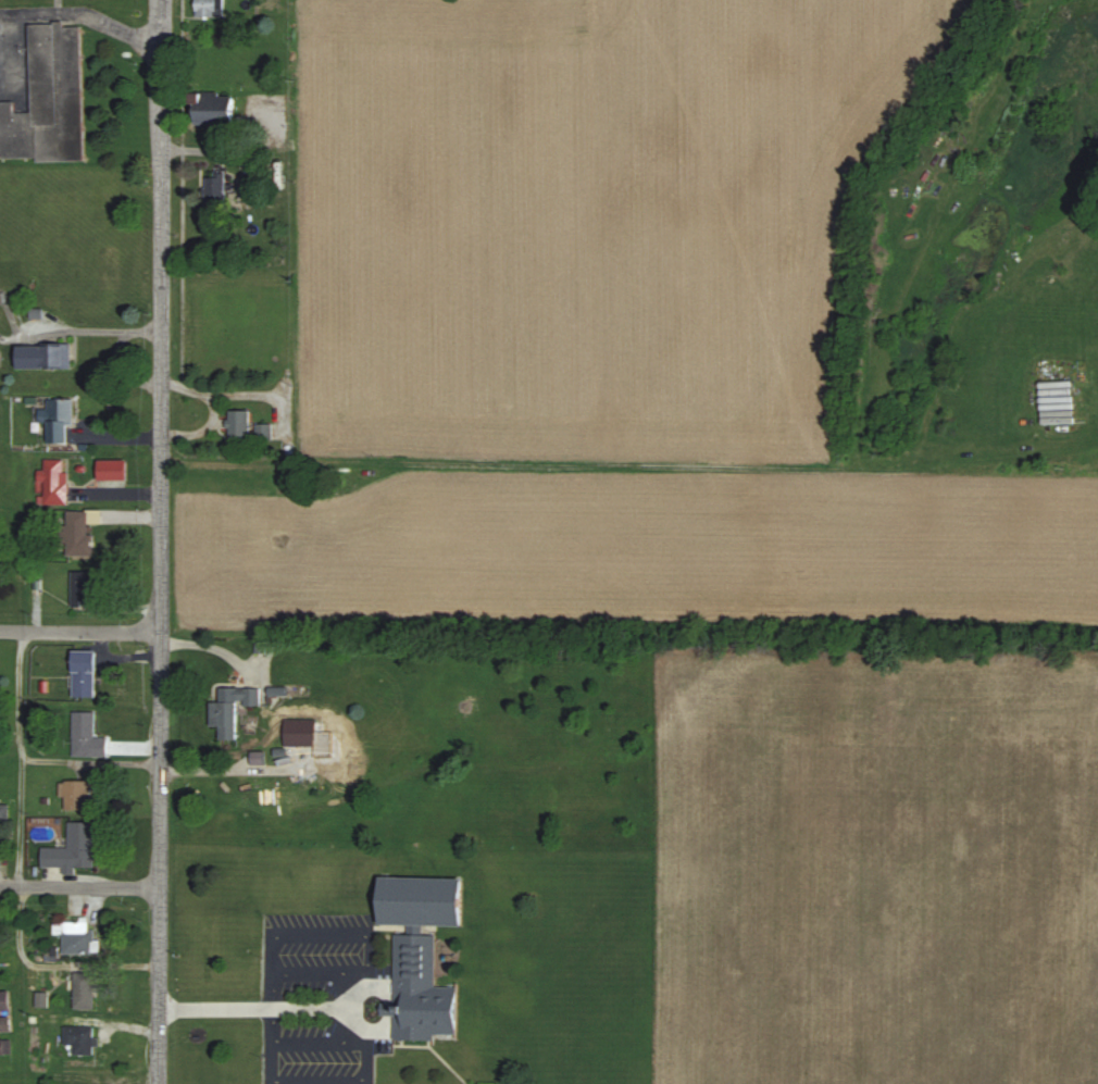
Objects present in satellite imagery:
building: (207, 9)
road: (79, 13)
building: (49, 100)
building: (216, 108)
building: (216, 186)
building: (46, 357)
building: (1058, 402)
building: (60, 419)
building: (240, 423)
building: (265, 431)
building: (113, 470)
building: (54, 483)
road: (160, 503)
building: (78, 533)
building: (84, 589)
road: (10, 628)
road: (90, 630)
building: (85, 674)
building: (233, 709)
building: (301, 733)
building: (89, 734)
road: (89, 762)
building: (77, 795)
building: (75, 849)
road: (18, 865)
road: (79, 884)
building: (423, 901)
building: (77, 937)
building: (85, 990)
building: (421, 993)
building: (42, 1000)
road: (258, 1008)
building: (4, 1013)
building: (82, 1039)
road: (160, 1045)
building: (5, 1047)

